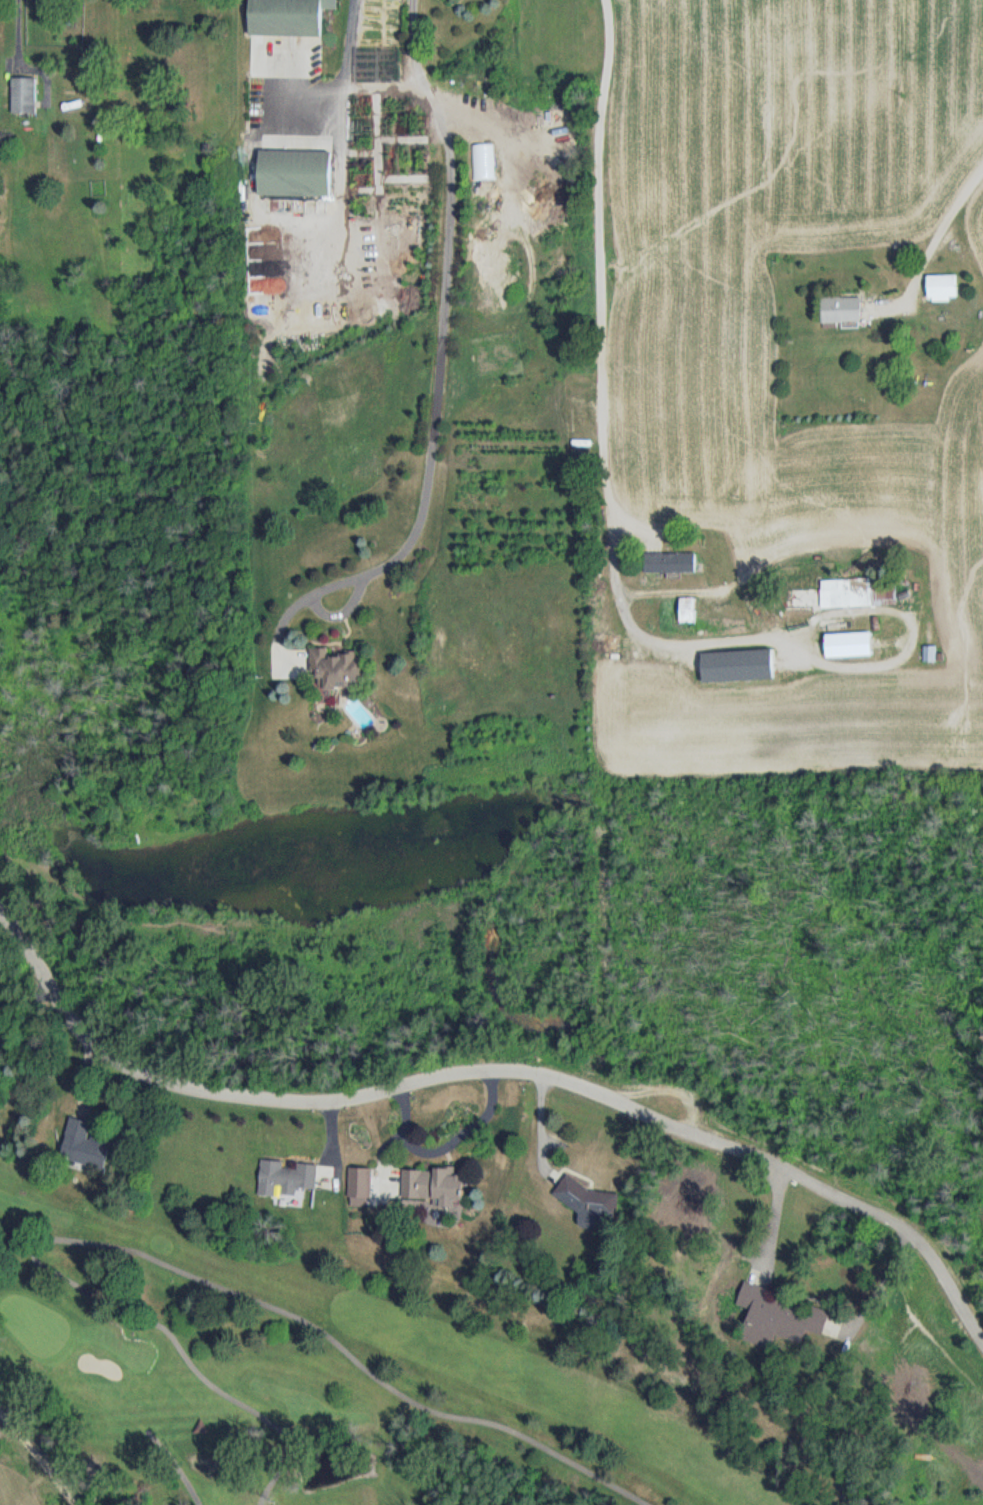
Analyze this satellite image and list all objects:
building: (291, 17)
building: (590, 19)
road: (415, 46)
road: (346, 84)
building: (26, 96)
building: (297, 174)
building: (944, 288)
building: (843, 313)
road: (436, 417)
building: (671, 564)
building: (855, 593)
building: (689, 607)
building: (864, 639)
building: (738, 666)
building: (338, 670)
road: (205, 1087)
building: (83, 1135)
road: (764, 1160)
building: (280, 1171)
building: (354, 1174)
building: (430, 1177)
building: (582, 1194)
building: (773, 1310)
park: (332, 1378)

